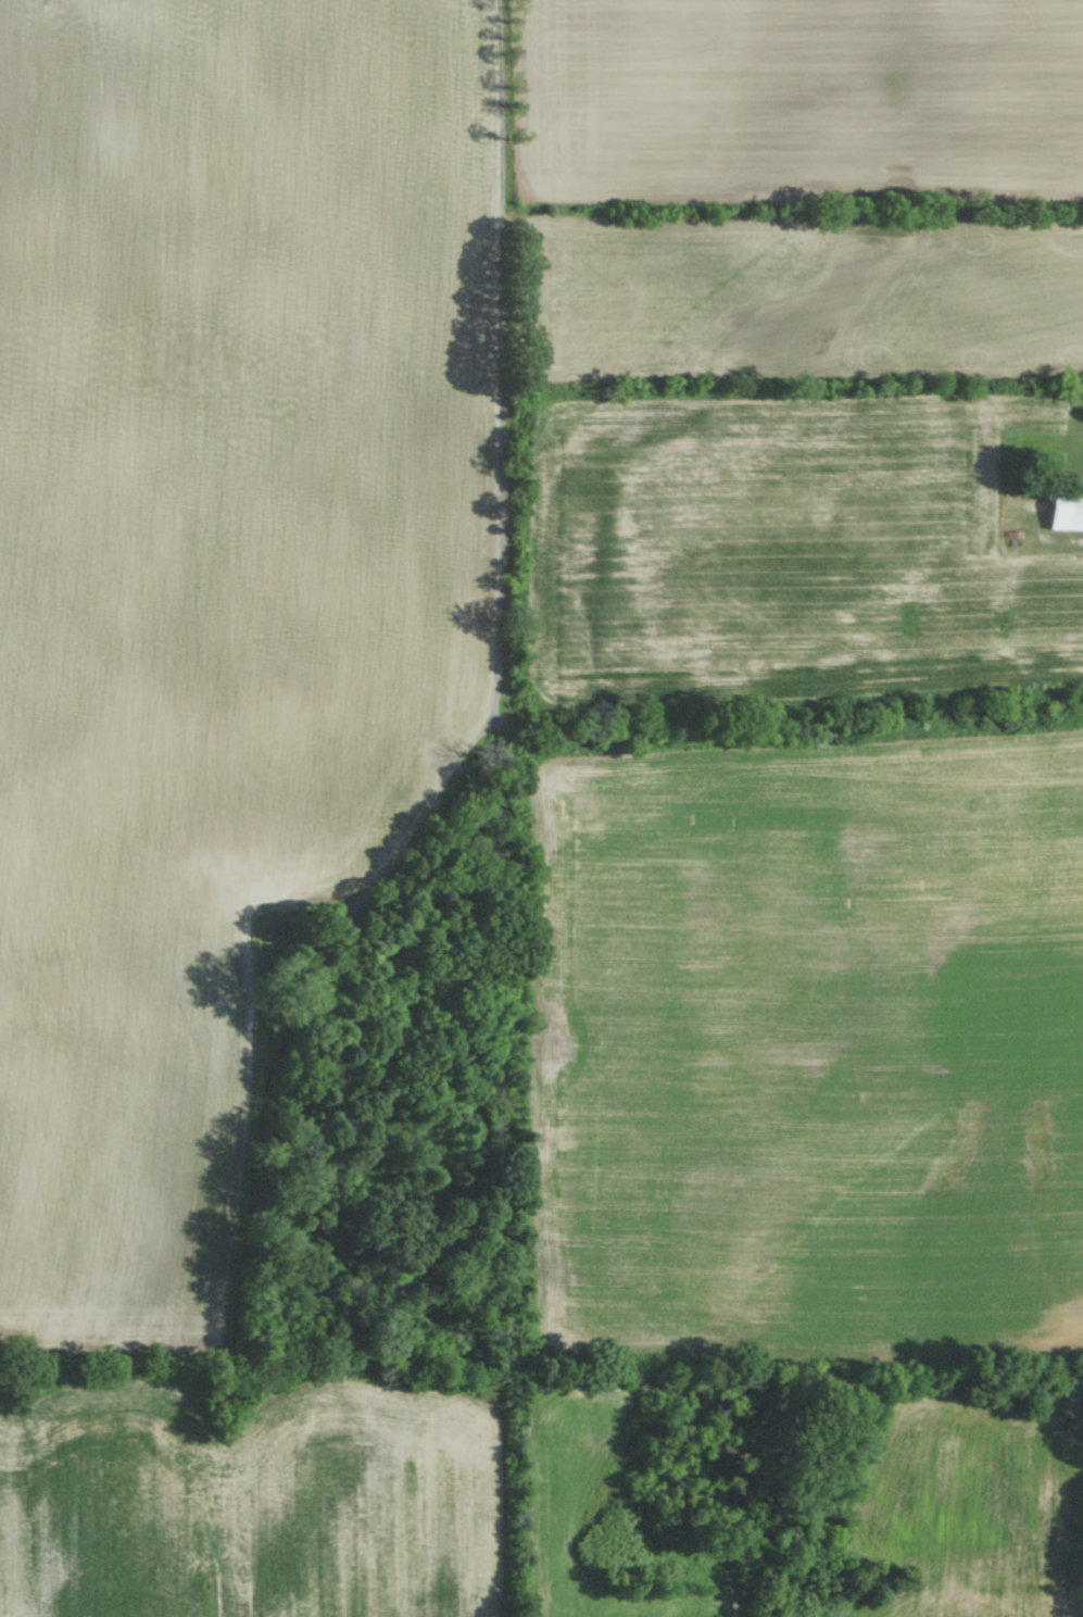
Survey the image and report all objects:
building: (1070, 513)

